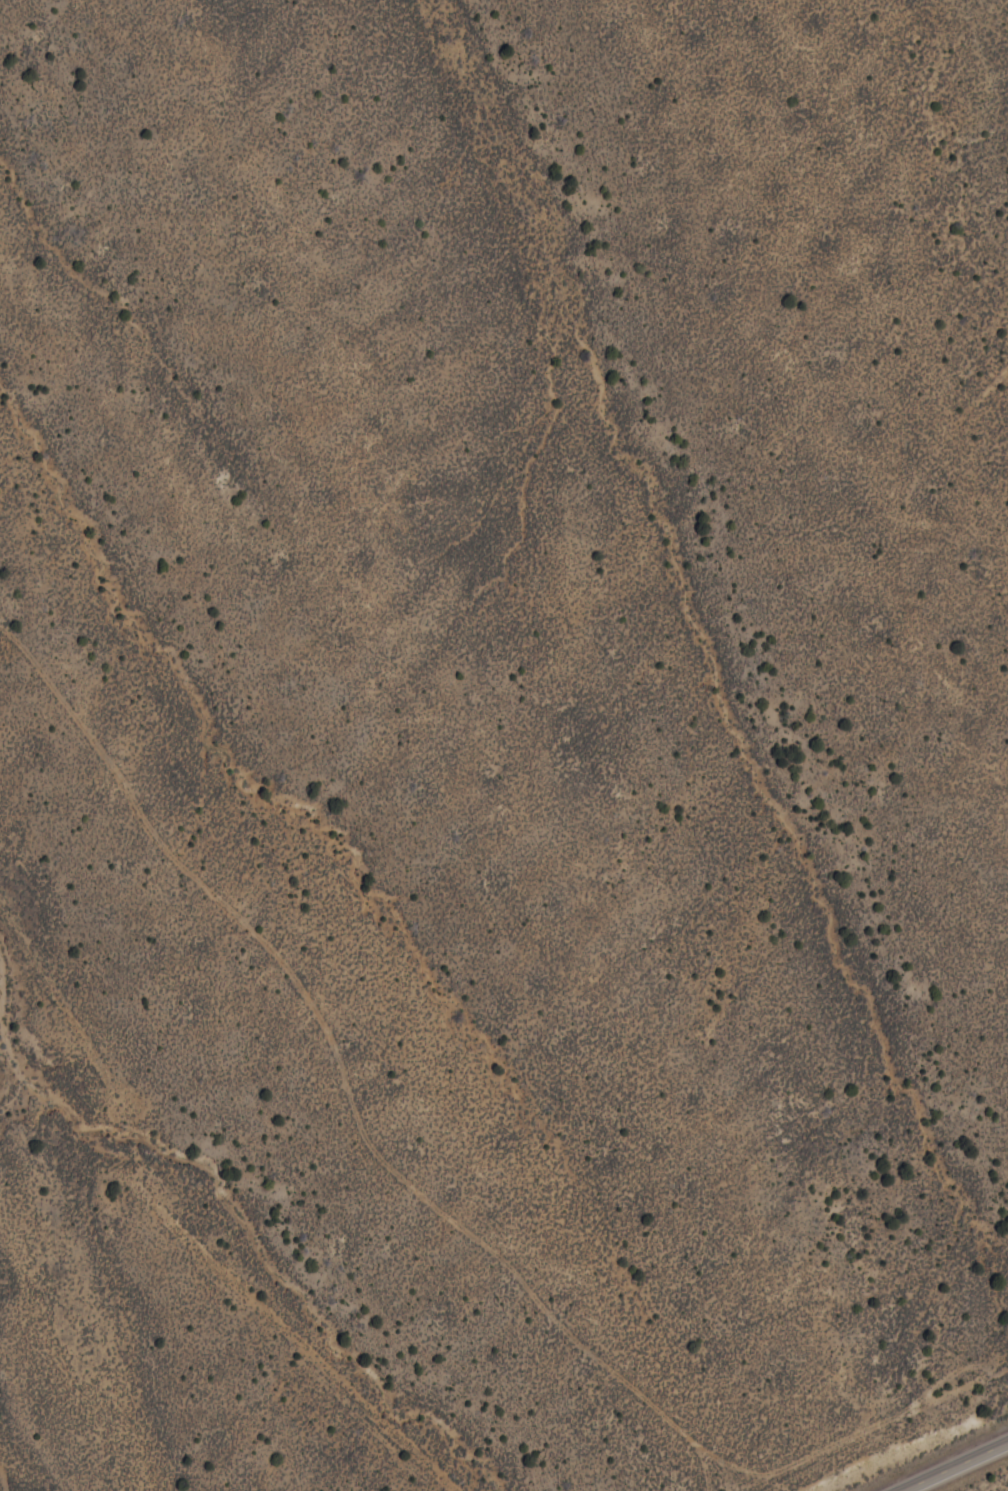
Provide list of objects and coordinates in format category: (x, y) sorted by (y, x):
road: (952, 1465)

